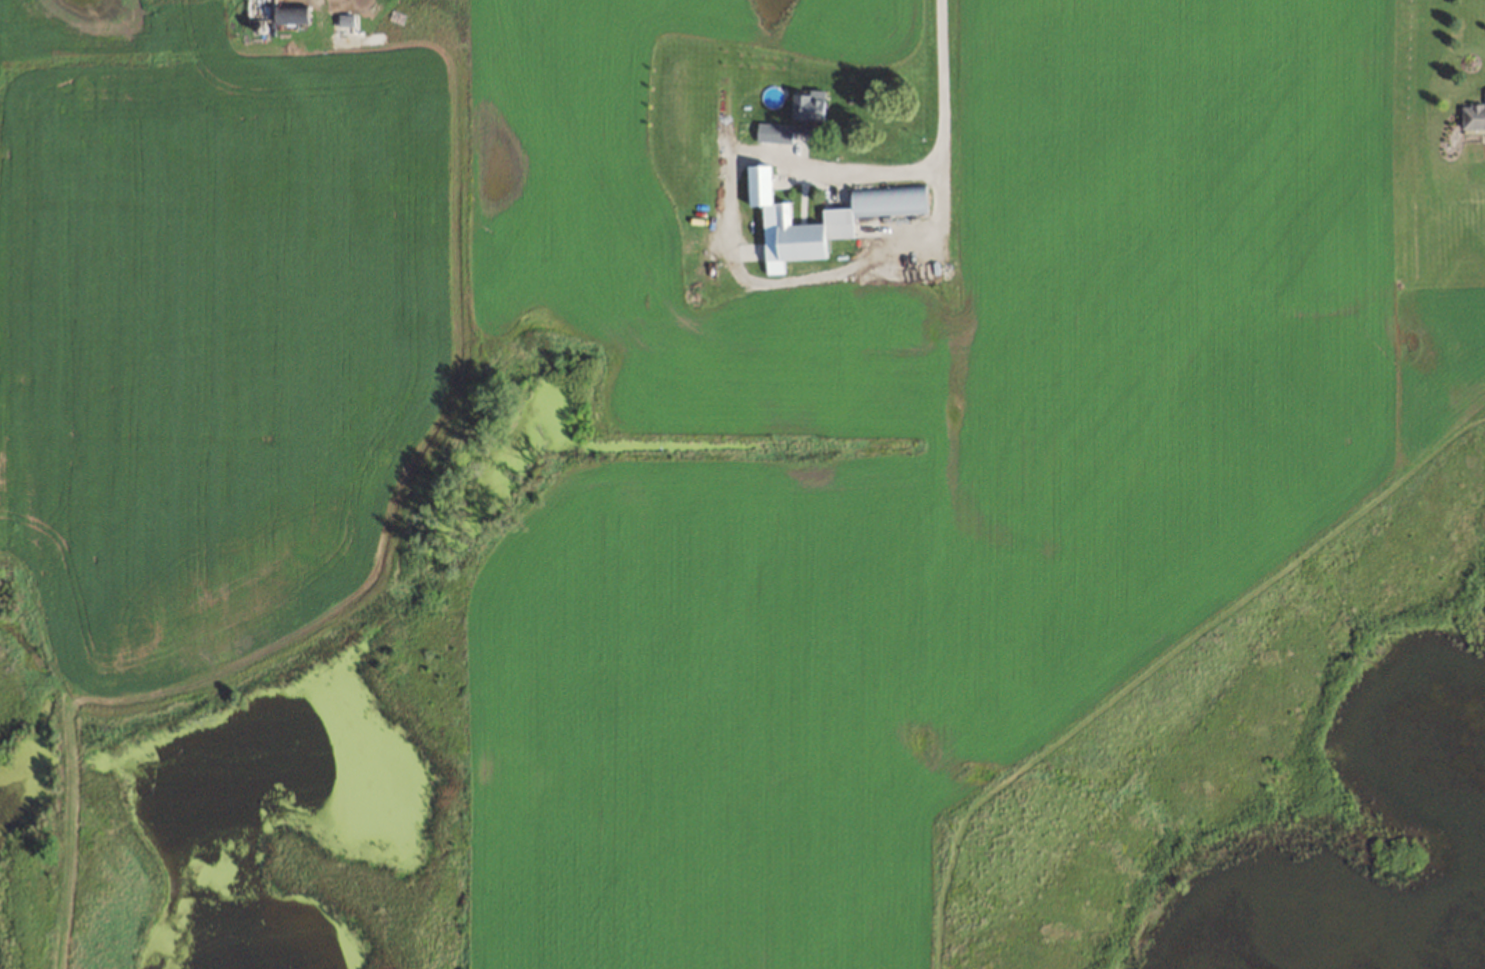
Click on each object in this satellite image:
building: (280, 13)
building: (1484, 93)
building: (807, 105)
building: (1473, 116)
building: (779, 132)
road: (943, 135)
building: (823, 218)

